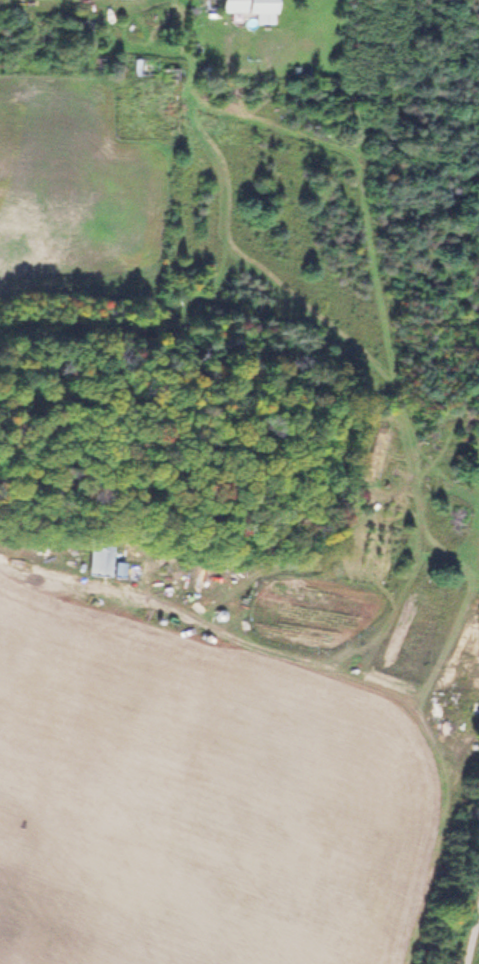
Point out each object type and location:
building: (247, 7)
building: (141, 64)
road: (471, 932)

